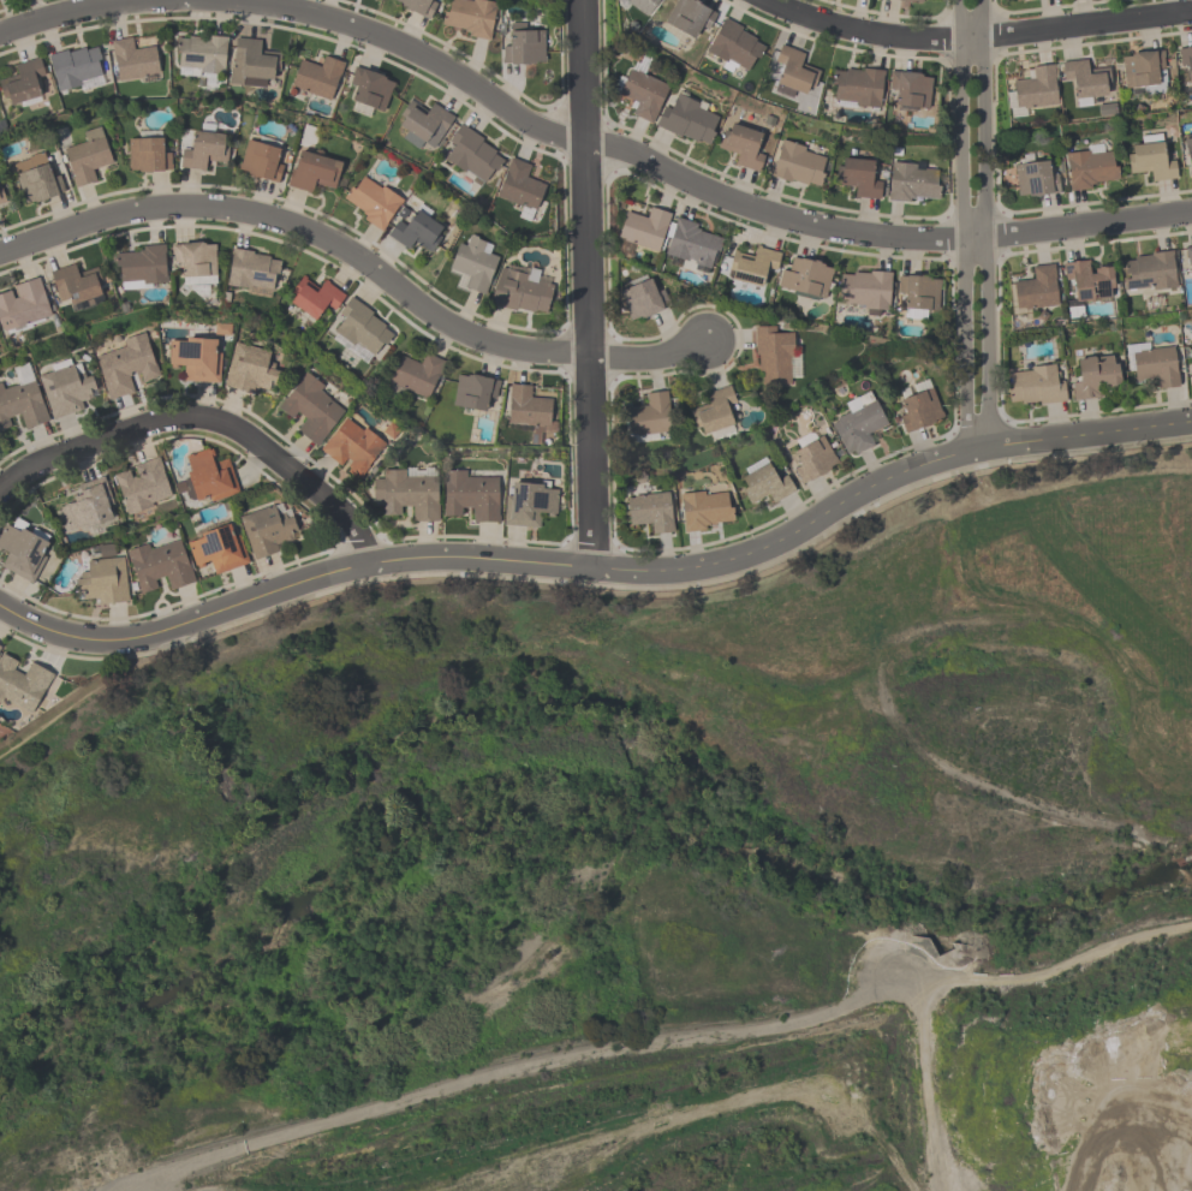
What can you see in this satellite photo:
building: (910, 1)
building: (417, 6)
building: (644, 6)
road: (77, 8)
building: (471, 18)
building: (690, 19)
road: (978, 37)
building: (735, 47)
building: (524, 49)
building: (201, 56)
building: (1185, 58)
building: (135, 60)
building: (252, 64)
building: (77, 70)
building: (1145, 73)
building: (794, 77)
building: (318, 78)
building: (1086, 81)
building: (24, 84)
building: (857, 88)
building: (371, 89)
building: (1037, 89)
building: (911, 91)
building: (644, 95)
building: (690, 120)
building: (425, 124)
building: (744, 147)
building: (203, 149)
building: (1188, 155)
building: (148, 156)
building: (473, 156)
building: (88, 160)
building: (1152, 160)
building: (262, 161)
building: (800, 166)
building: (1091, 168)
building: (314, 172)
building: (859, 177)
building: (37, 179)
building: (1036, 179)
road: (687, 180)
building: (914, 183)
building: (520, 186)
building: (2, 192)
building: (372, 202)
road: (984, 224)
road: (964, 225)
building: (645, 230)
building: (419, 231)
building: (695, 245)
building: (1188, 257)
building: (196, 263)
road: (360, 263)
building: (475, 264)
building: (753, 267)
building: (142, 268)
building: (252, 273)
building: (1149, 273)
building: (807, 278)
building: (1089, 282)
road: (589, 284)
building: (77, 287)
building: (865, 290)
building: (1037, 291)
building: (521, 292)
building: (919, 294)
building: (316, 298)
building: (643, 299)
building: (23, 308)
building: (362, 329)
building: (775, 356)
building: (196, 359)
building: (1154, 365)
building: (126, 367)
building: (255, 370)
building: (1191, 373)
building: (417, 375)
building: (1096, 376)
building: (1037, 386)
building: (67, 389)
building: (475, 391)
building: (22, 401)
building: (314, 410)
building: (919, 410)
building: (530, 411)
building: (715, 415)
building: (651, 417)
road: (207, 419)
building: (858, 427)
road: (1086, 435)
building: (354, 448)
building: (812, 458)
building: (210, 477)
building: (767, 484)
building: (143, 487)
building: (410, 495)
building: (471, 496)
building: (530, 502)
building: (707, 508)
building: (89, 510)
building: (651, 513)
building: (269, 531)
building: (219, 549)
building: (23, 550)
road: (495, 560)
building: (161, 567)
building: (103, 583)
road: (589, 591)
building: (0, 645)
building: (24, 684)

